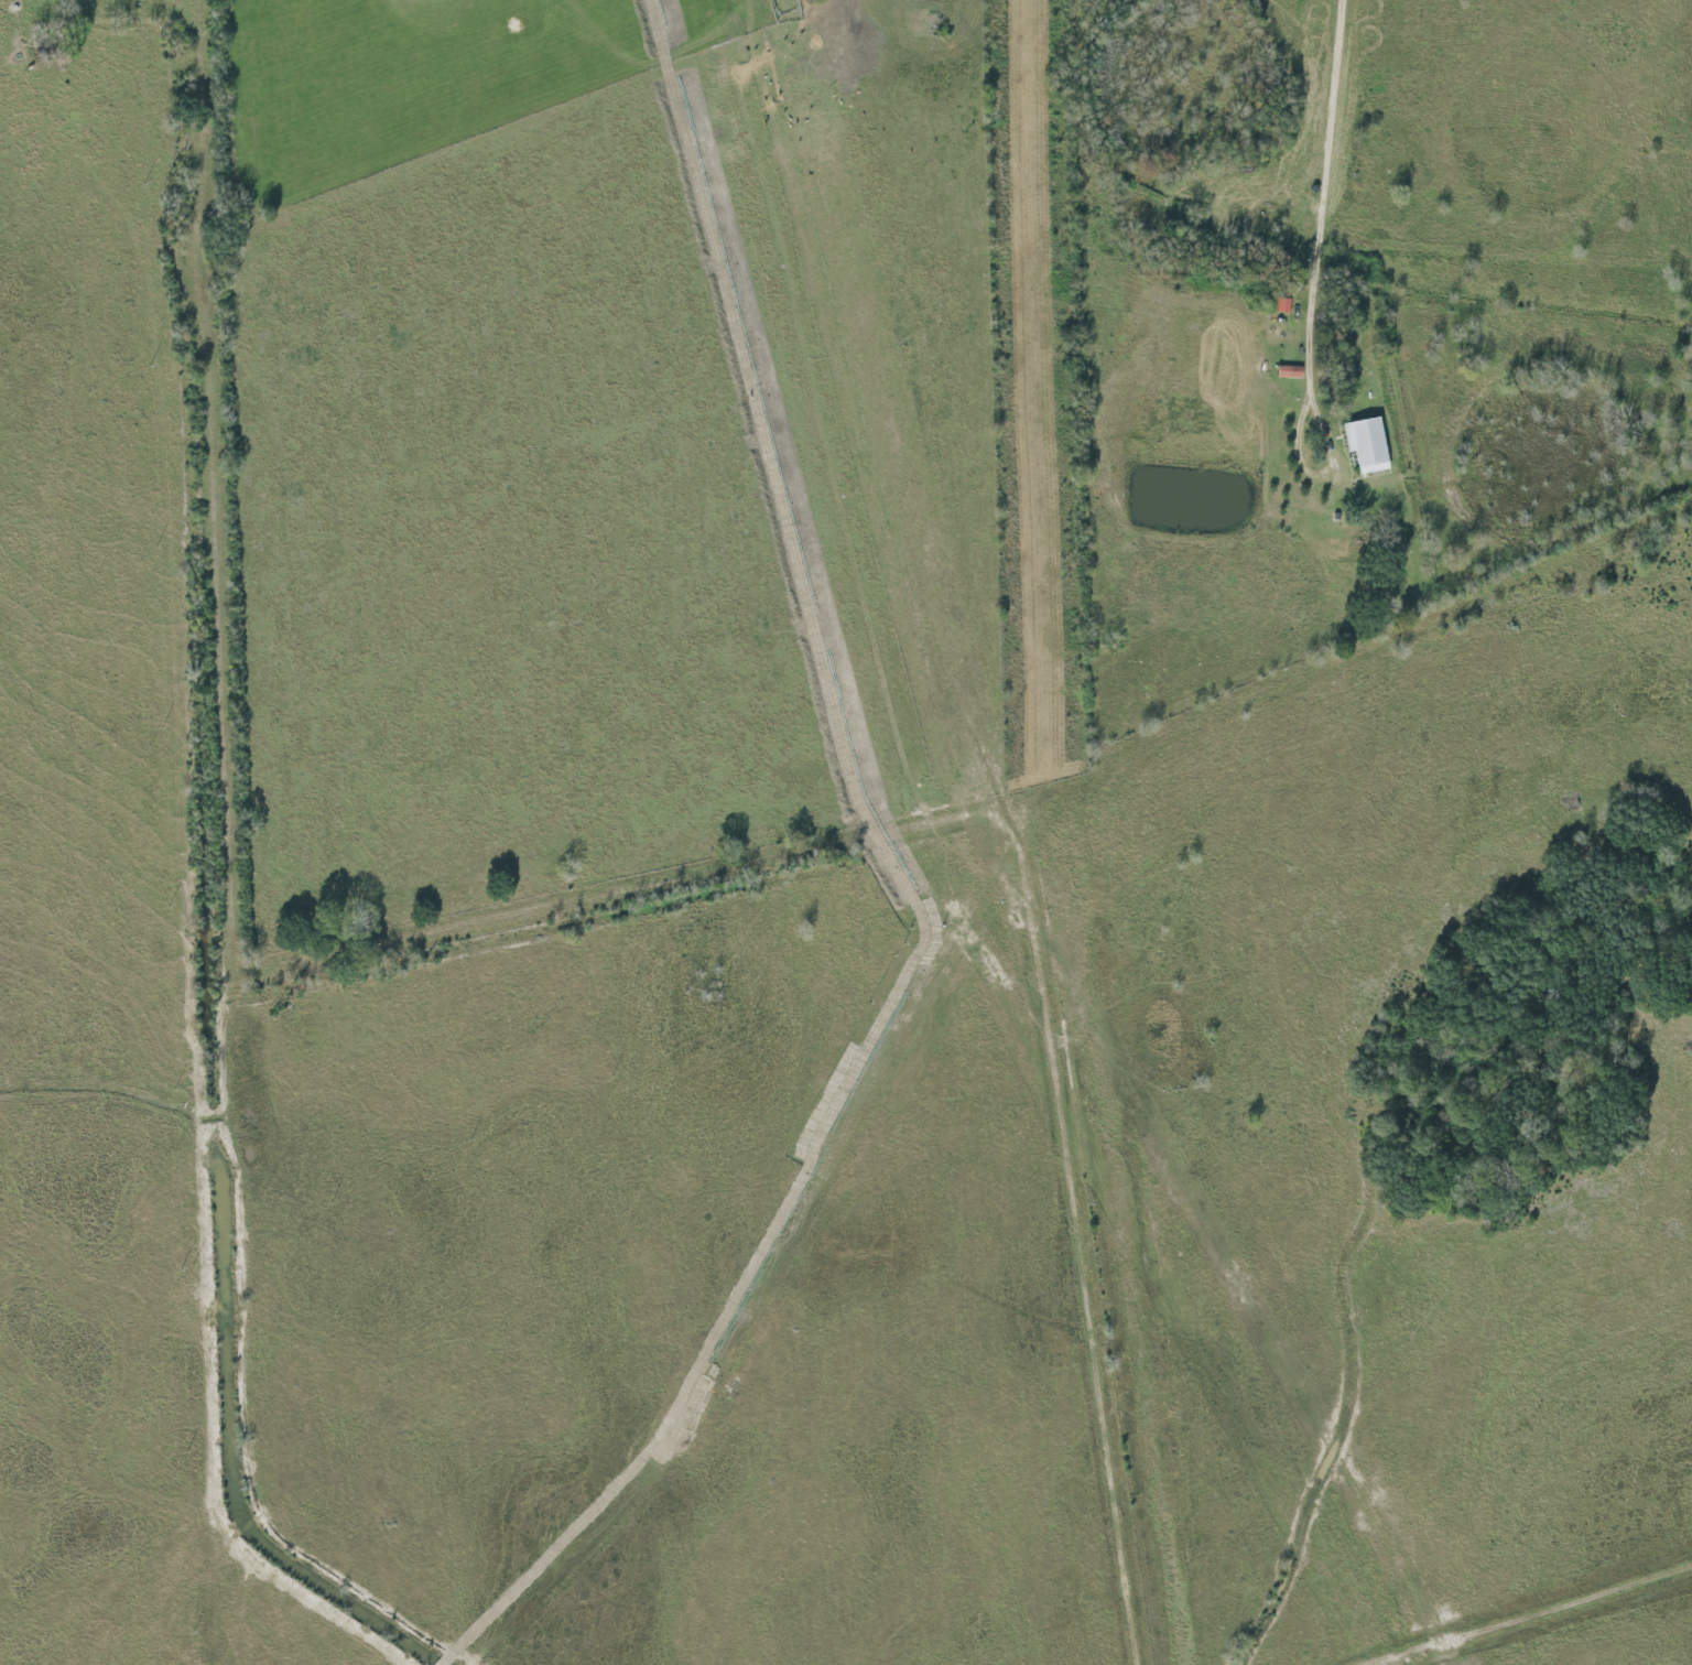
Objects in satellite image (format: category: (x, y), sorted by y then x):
road: (1534, 45)
road: (1335, 120)
building: (1283, 304)
road: (1312, 339)
building: (1290, 370)
building: (1367, 443)

